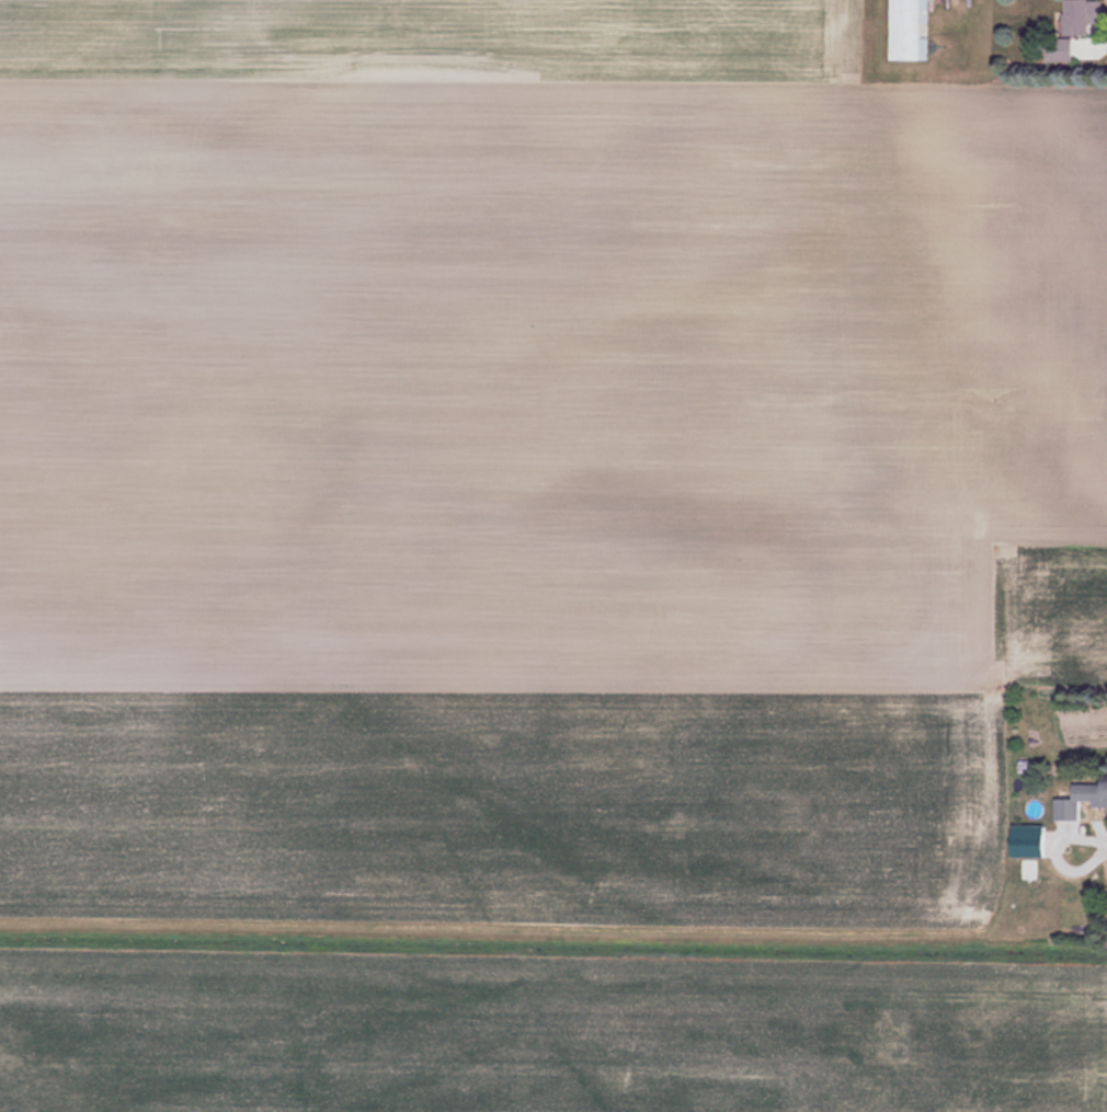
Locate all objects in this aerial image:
building: (1075, 27)
building: (906, 30)
building: (1082, 800)
building: (1034, 848)
building: (1032, 902)

